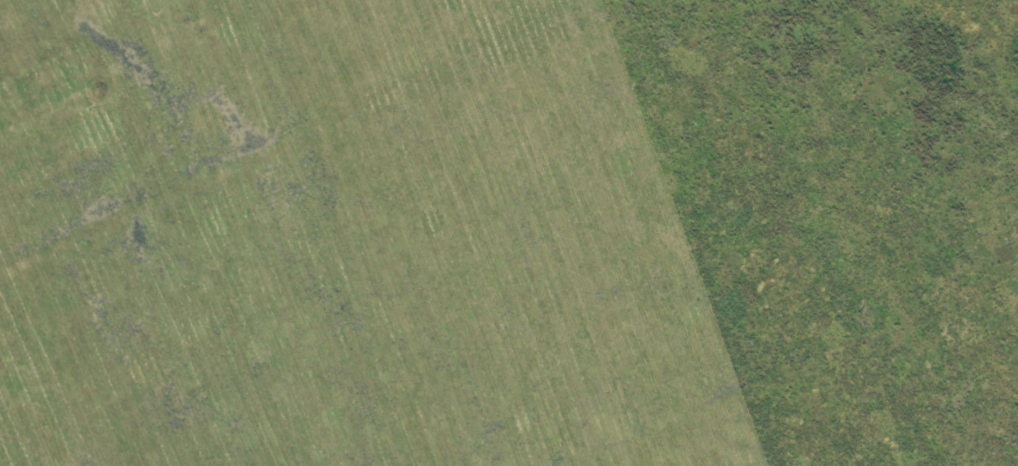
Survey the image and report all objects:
road: (894, 231)

